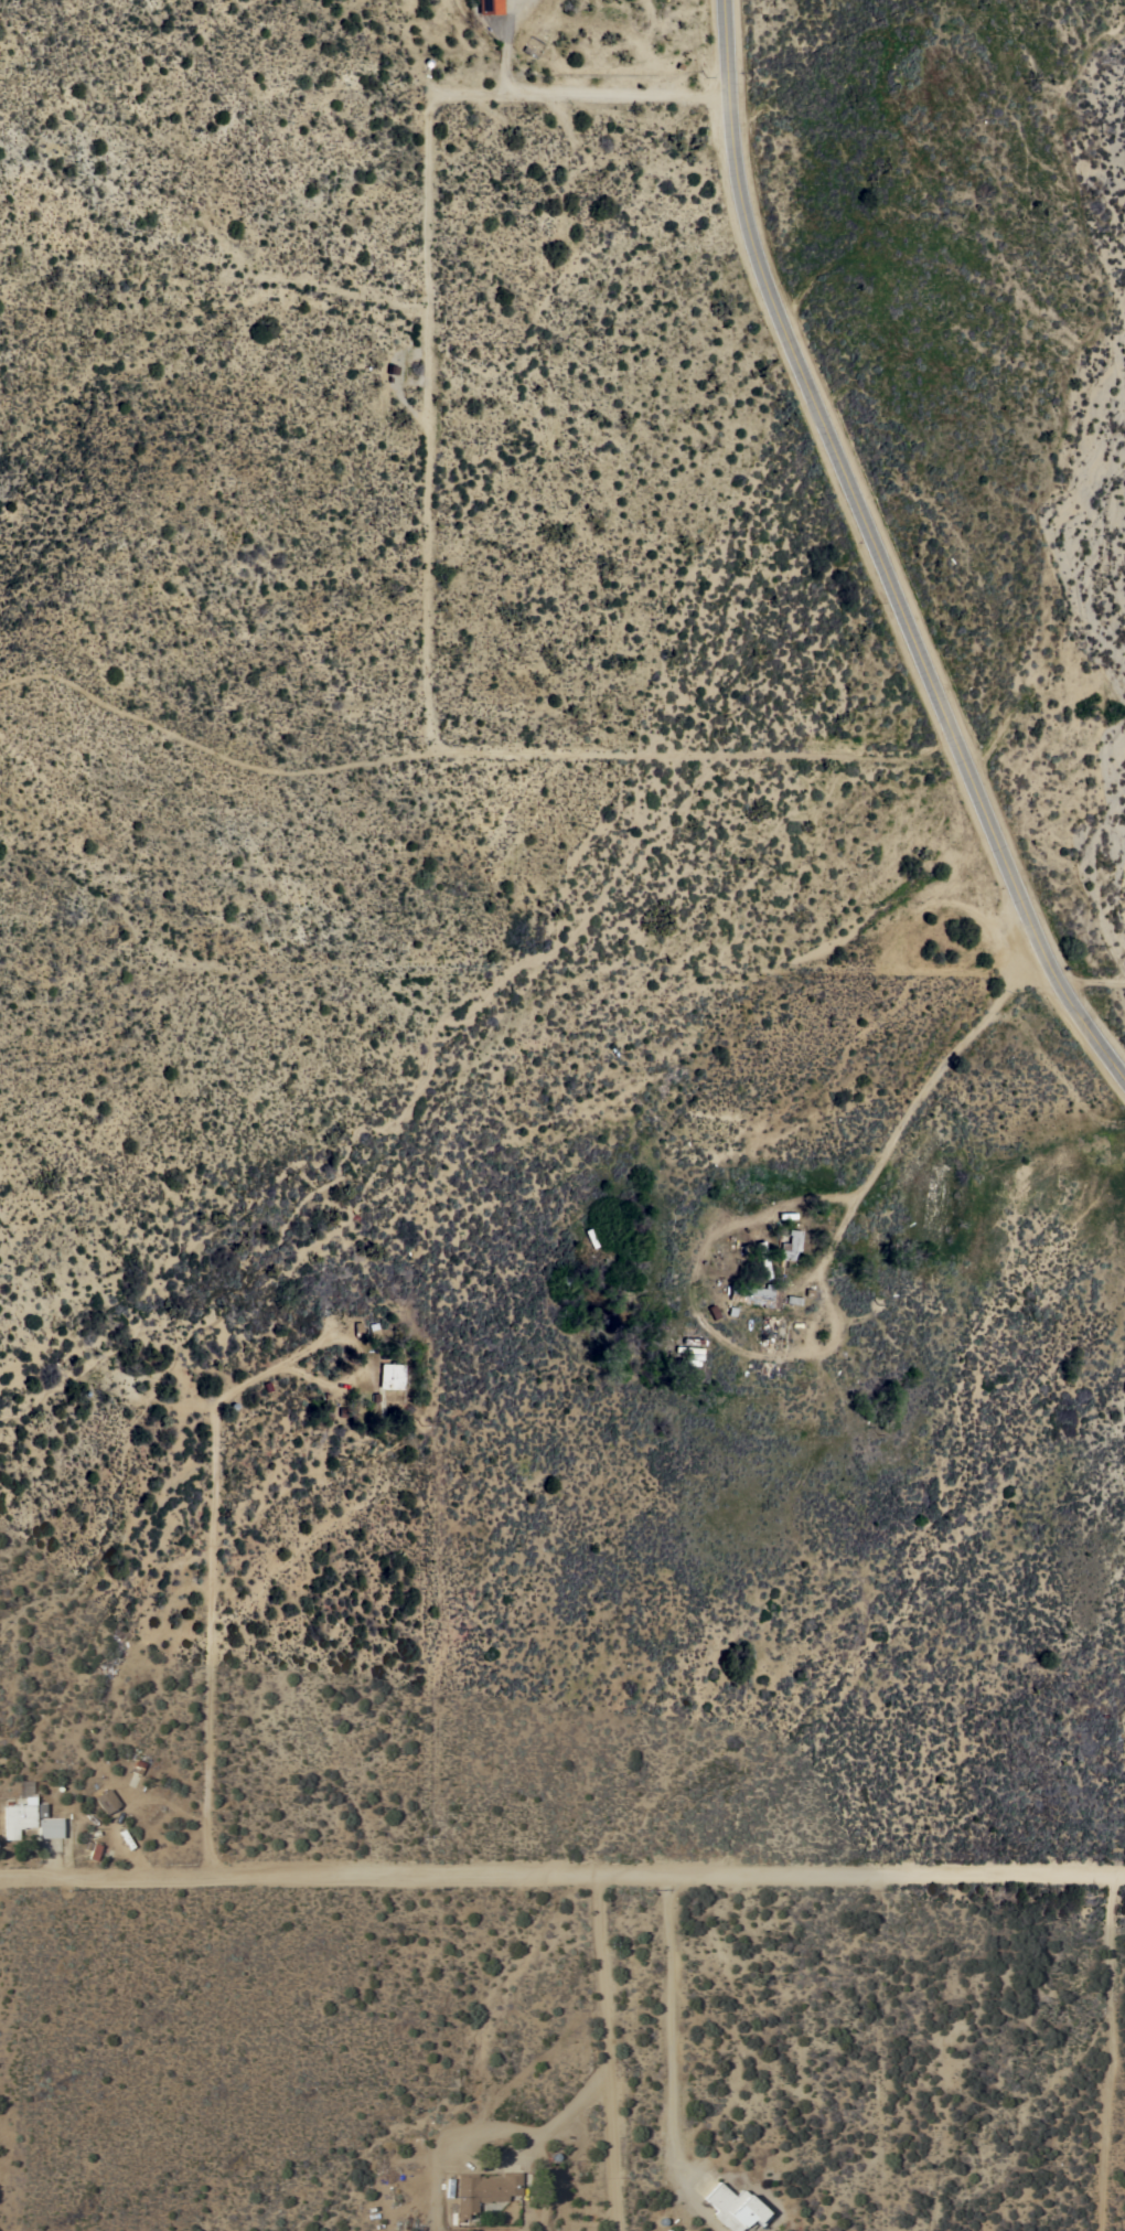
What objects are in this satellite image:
building: (490, 7)
road: (589, 93)
road: (877, 551)
road: (1095, 984)
road: (913, 1104)
building: (790, 1247)
building: (763, 1259)
building: (757, 1294)
building: (392, 1375)
road: (212, 1578)
building: (107, 1802)
building: (20, 1812)
building: (49, 1828)
building: (93, 1848)
road: (561, 1877)
road: (668, 2031)
road: (602, 2053)
road: (1104, 2053)
road: (491, 2129)
building: (484, 2190)
building: (735, 2208)

